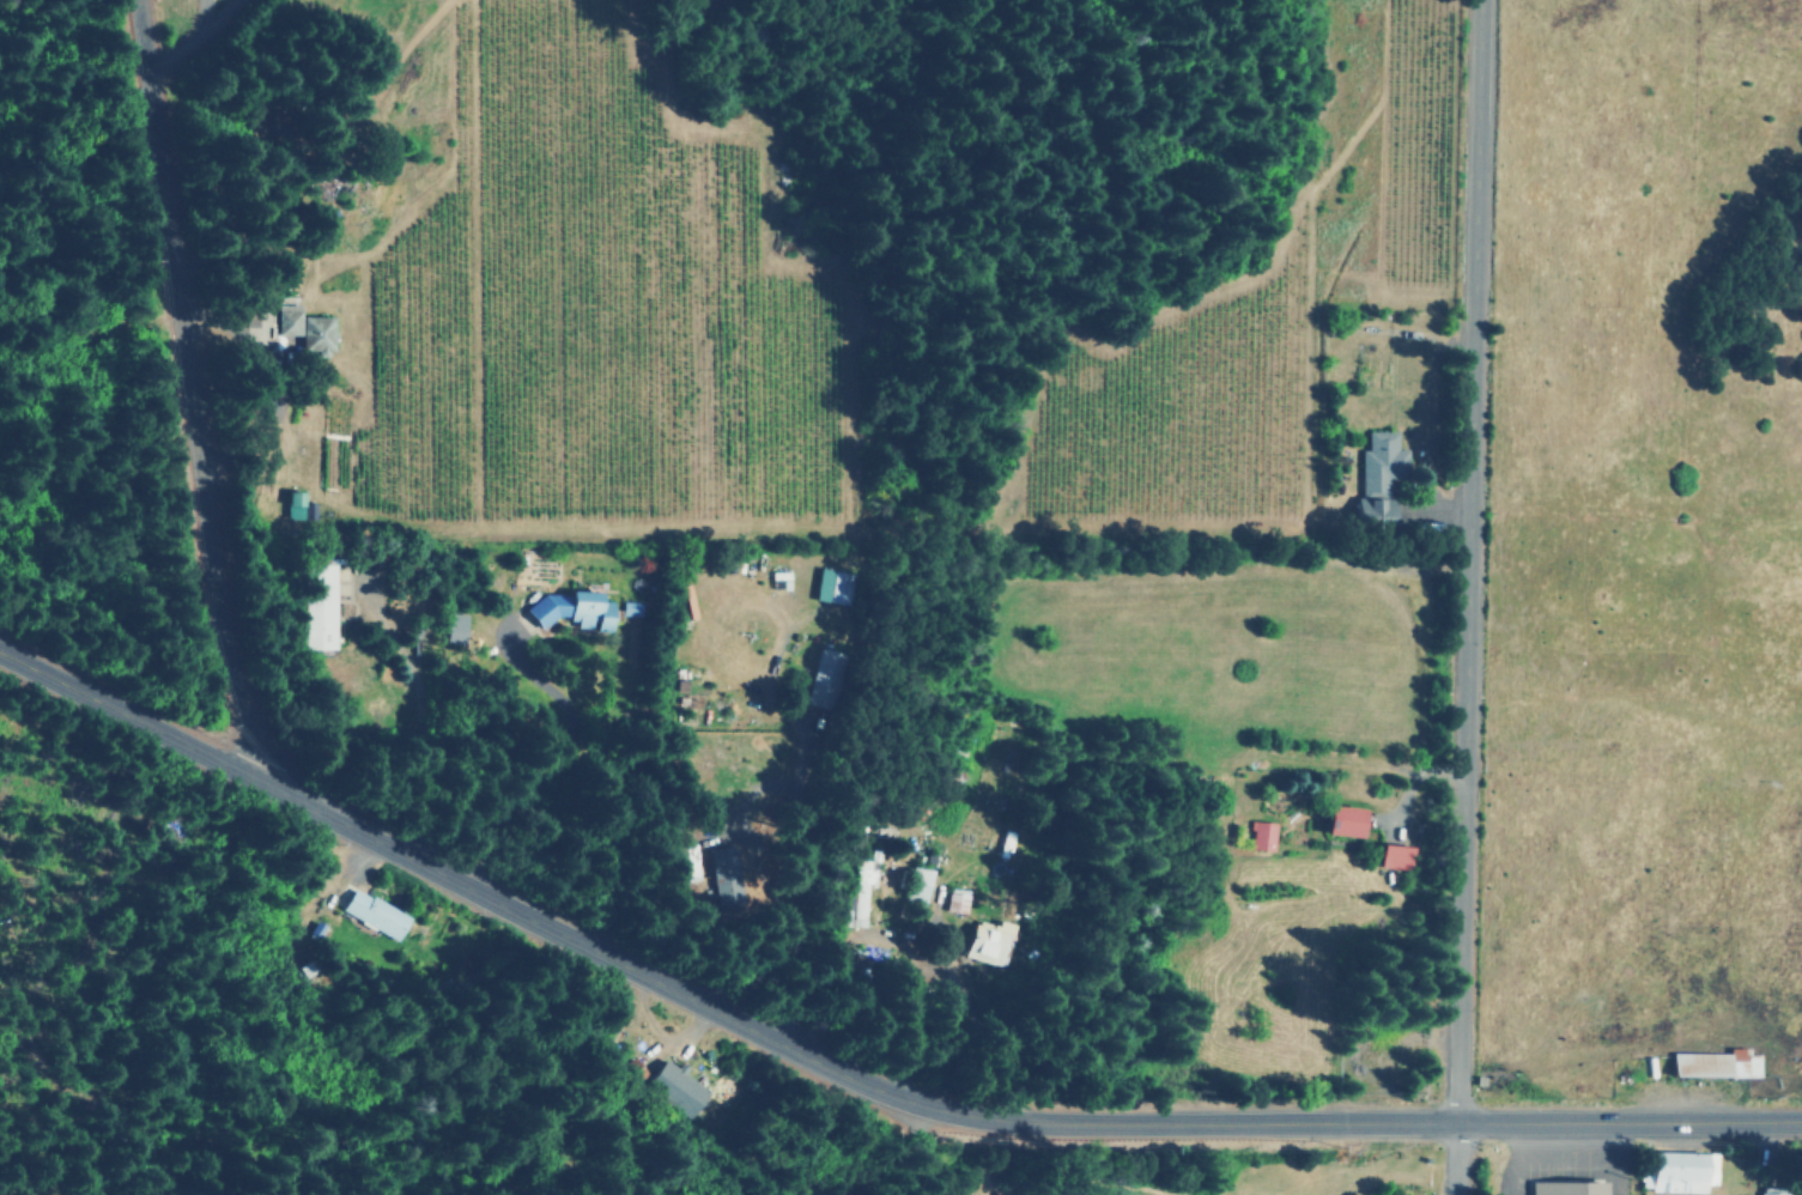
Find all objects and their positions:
building: (304, 328)
road: (171, 383)
building: (1377, 477)
building: (291, 504)
road: (1458, 559)
building: (831, 584)
building: (318, 606)
building: (572, 608)
building: (454, 629)
building: (821, 677)
road: (523, 789)
building: (1339, 819)
building: (1261, 835)
building: (1393, 855)
building: (682, 862)
building: (722, 875)
building: (916, 884)
building: (861, 890)
building: (954, 902)
building: (371, 912)
building: (987, 942)
building: (1713, 1063)
road: (853, 1076)
building: (675, 1086)
road: (663, 1097)
road: (1461, 1157)
park: (1195, 1166)
building: (1677, 1171)
building: (1565, 1188)
building: (1771, 1193)

